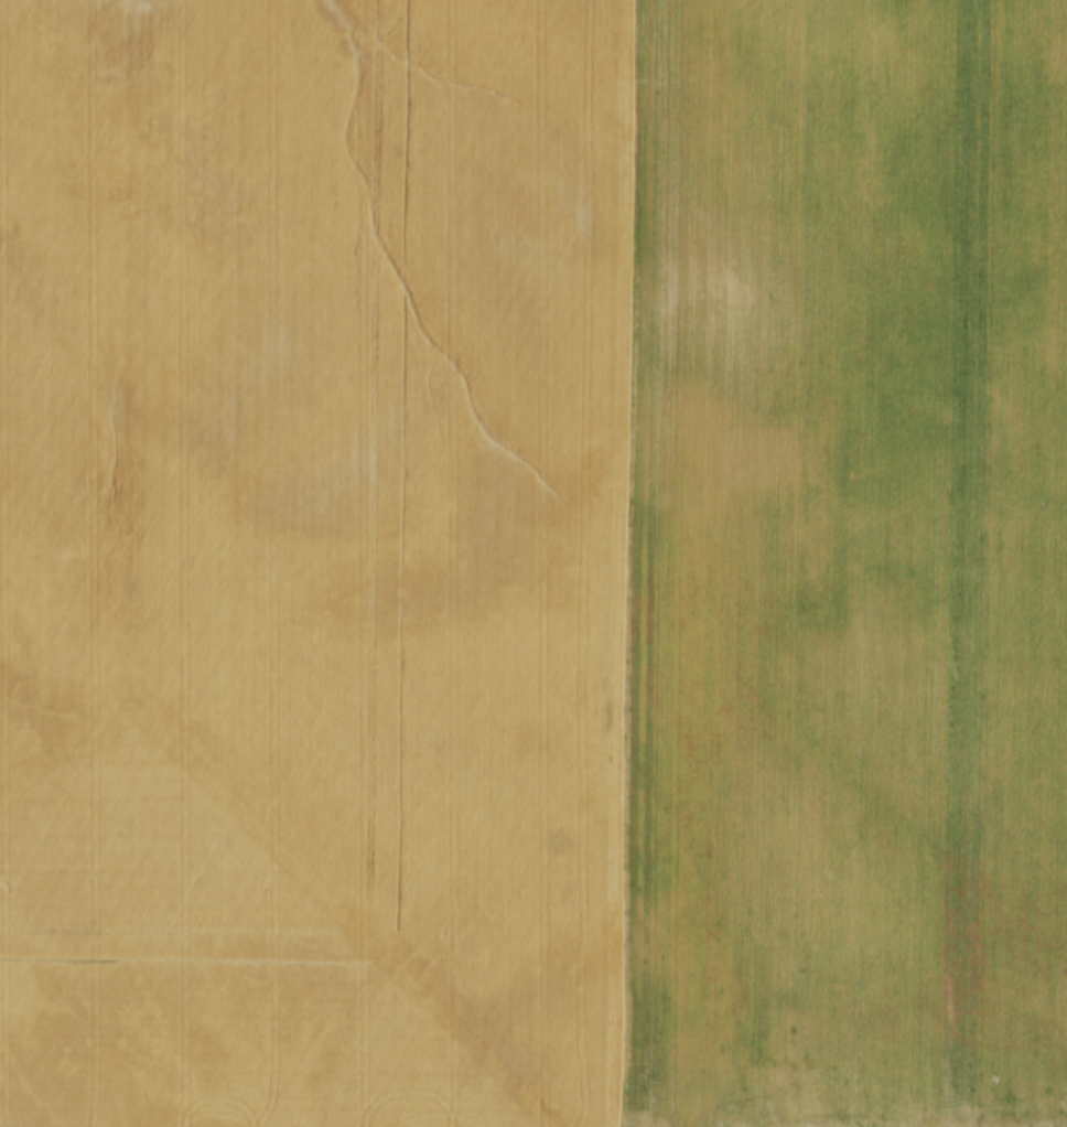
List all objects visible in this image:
crop: (533, 563)

